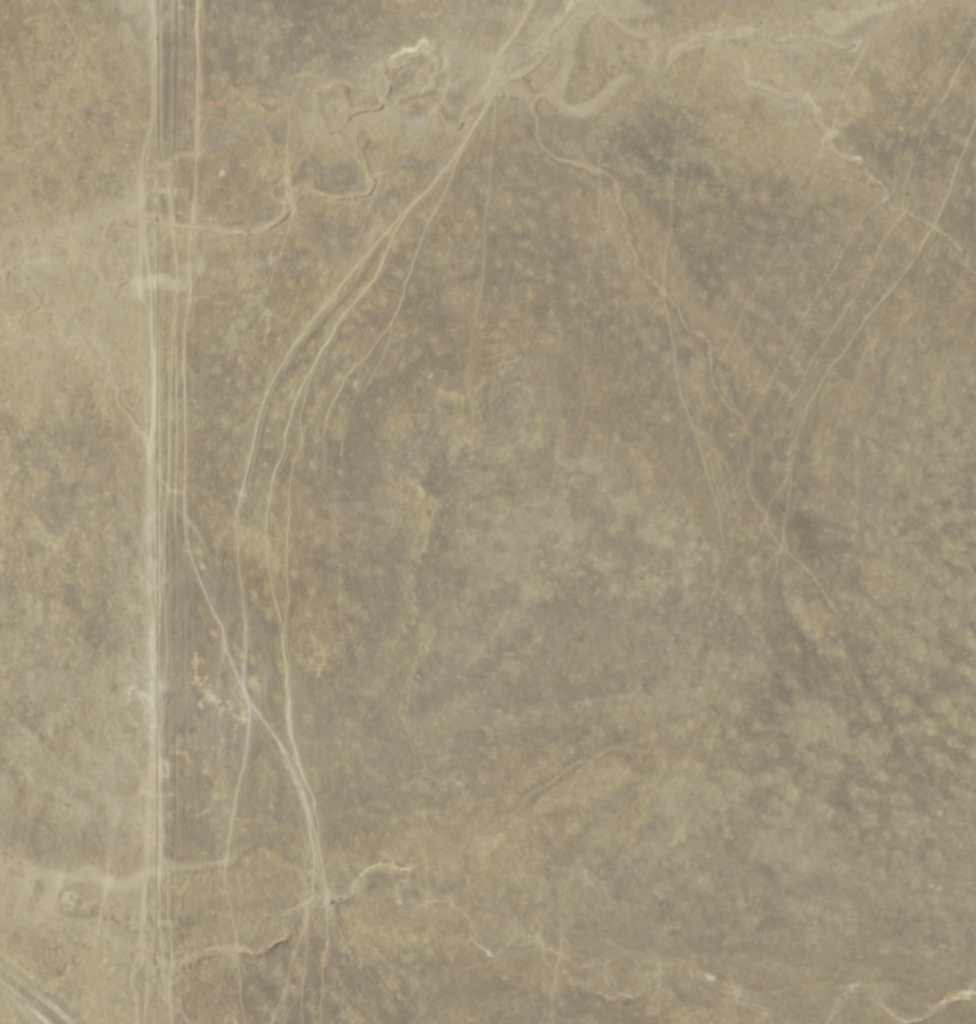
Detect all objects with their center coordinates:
road: (33, 995)

